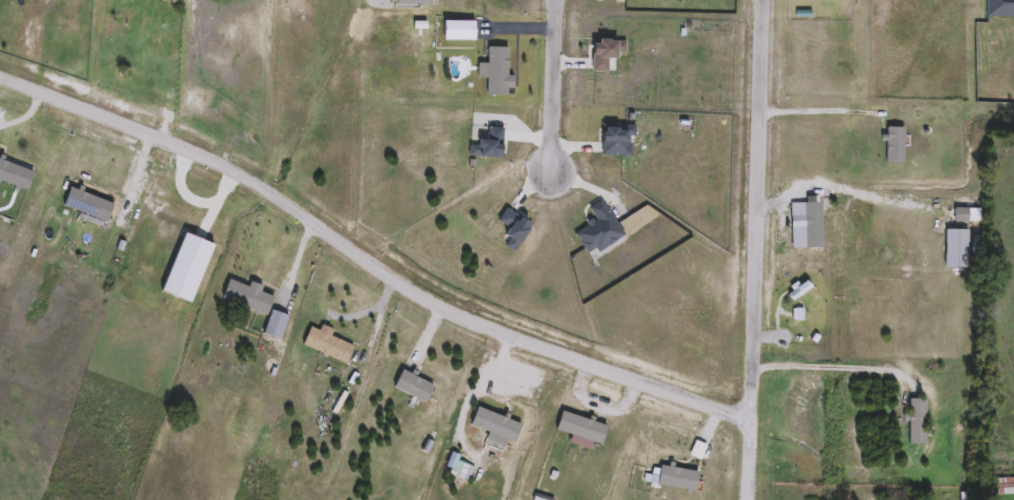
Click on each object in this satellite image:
building: (459, 32)
building: (604, 54)
road: (550, 85)
road: (816, 105)
building: (613, 141)
building: (486, 143)
building: (87, 207)
building: (504, 215)
building: (597, 230)
road: (754, 250)
road: (368, 263)
building: (247, 299)
building: (326, 345)
road: (832, 366)
road: (599, 408)
building: (497, 426)
building: (584, 431)
building: (680, 482)
building: (1003, 487)

